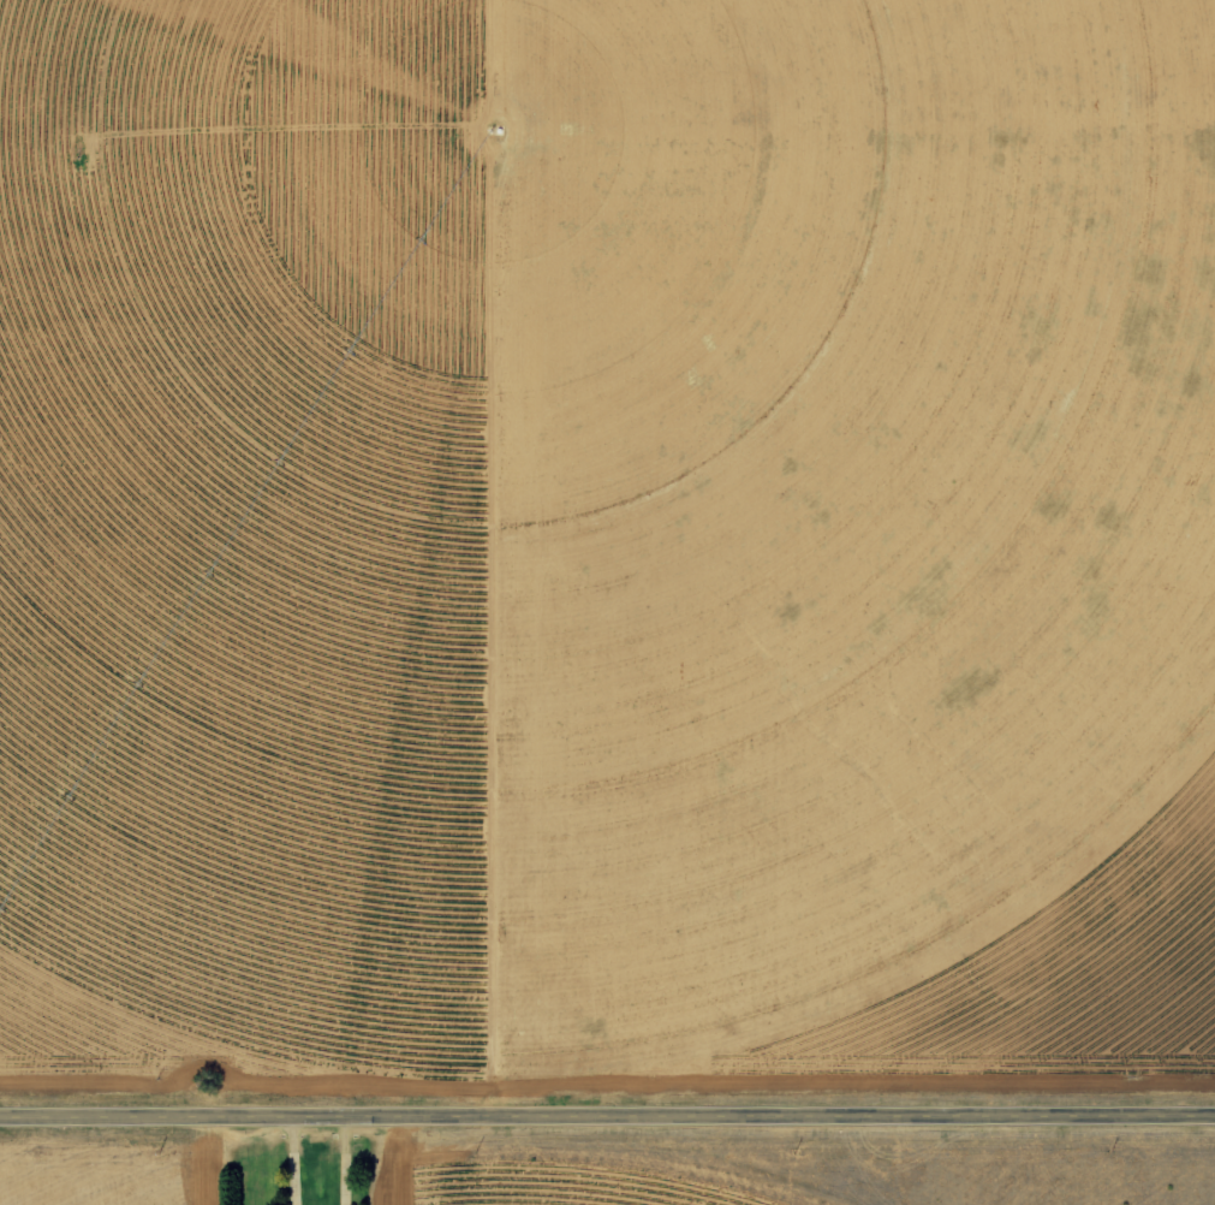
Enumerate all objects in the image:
road: (607, 1123)
road: (288, 1164)
road: (345, 1164)

